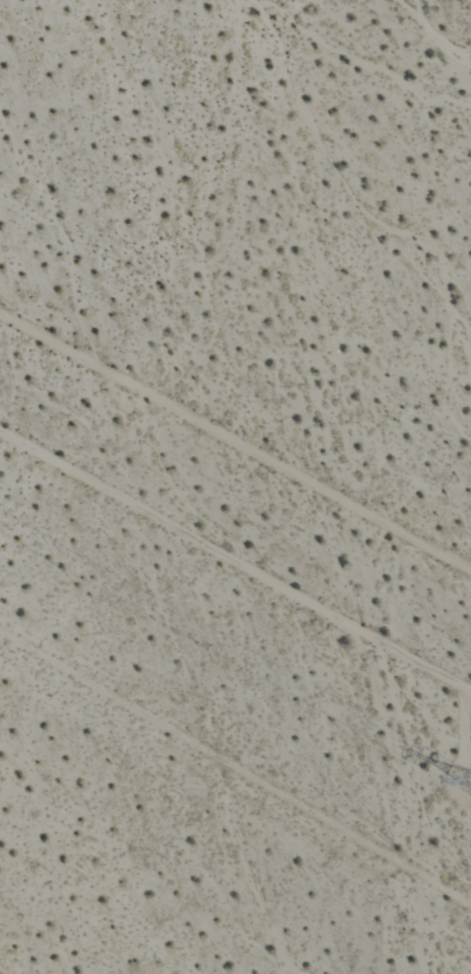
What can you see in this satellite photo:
road: (235, 561)

